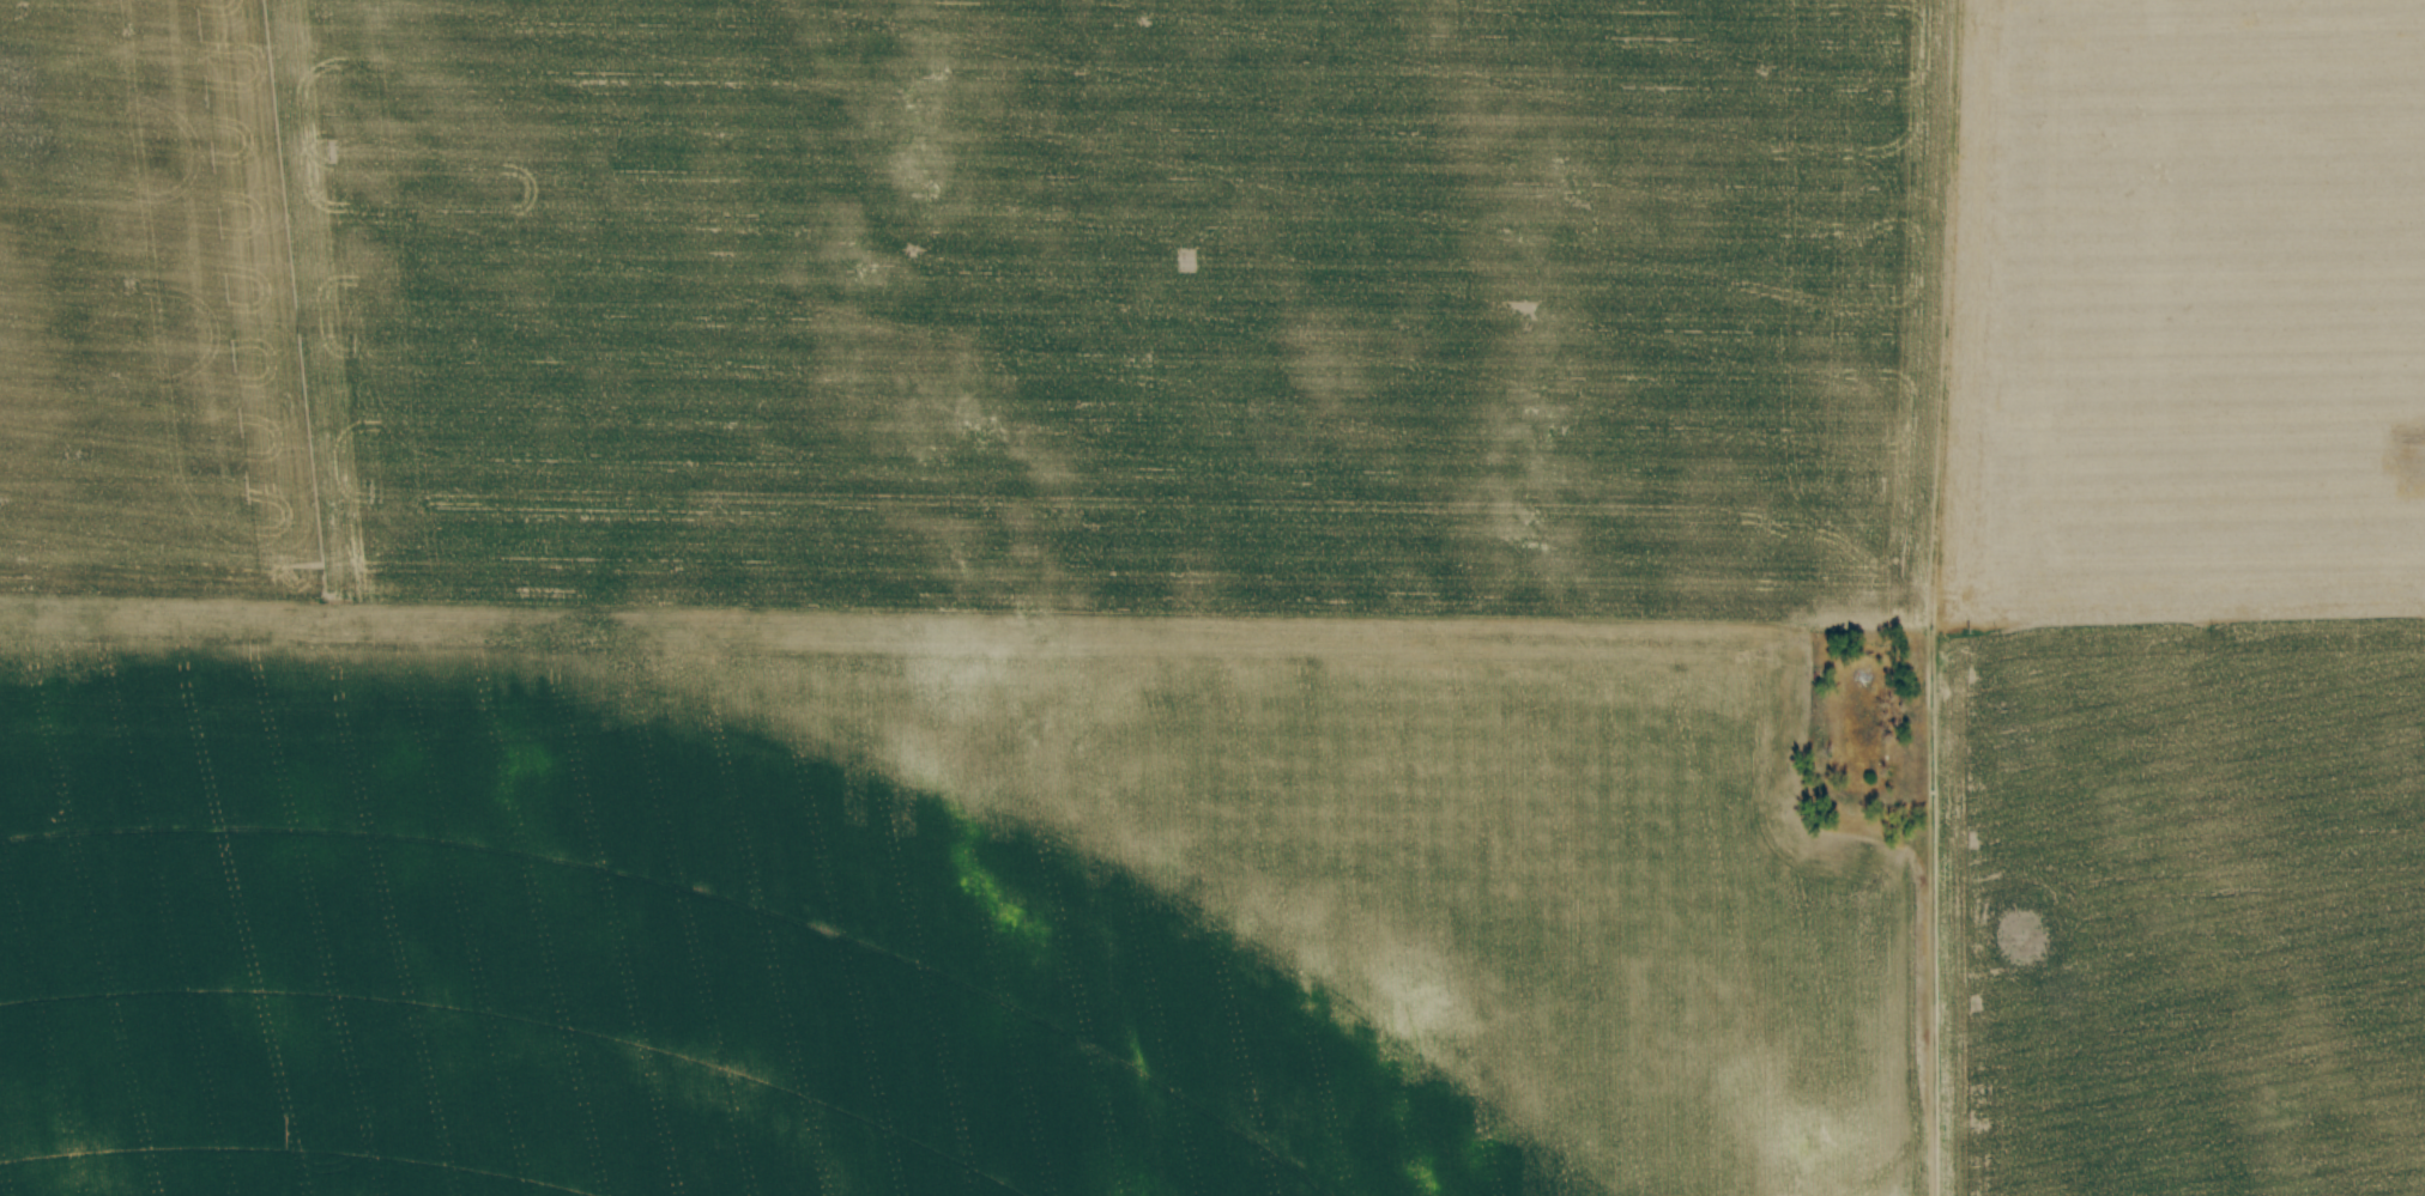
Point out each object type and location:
crop: (1204, 596)

